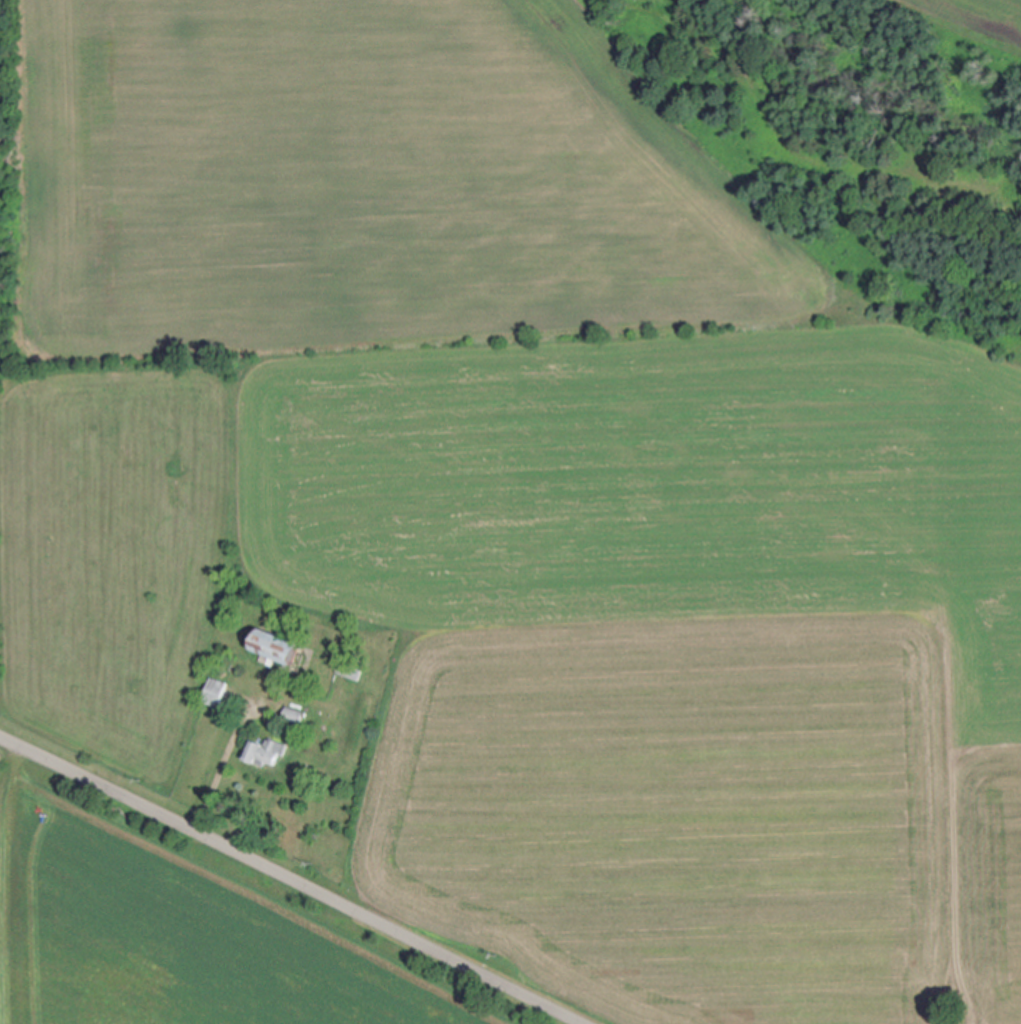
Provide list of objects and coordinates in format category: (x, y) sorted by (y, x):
building: (275, 648)
building: (349, 670)
building: (215, 692)
building: (293, 716)
building: (265, 753)
road: (224, 761)
road: (286, 881)

